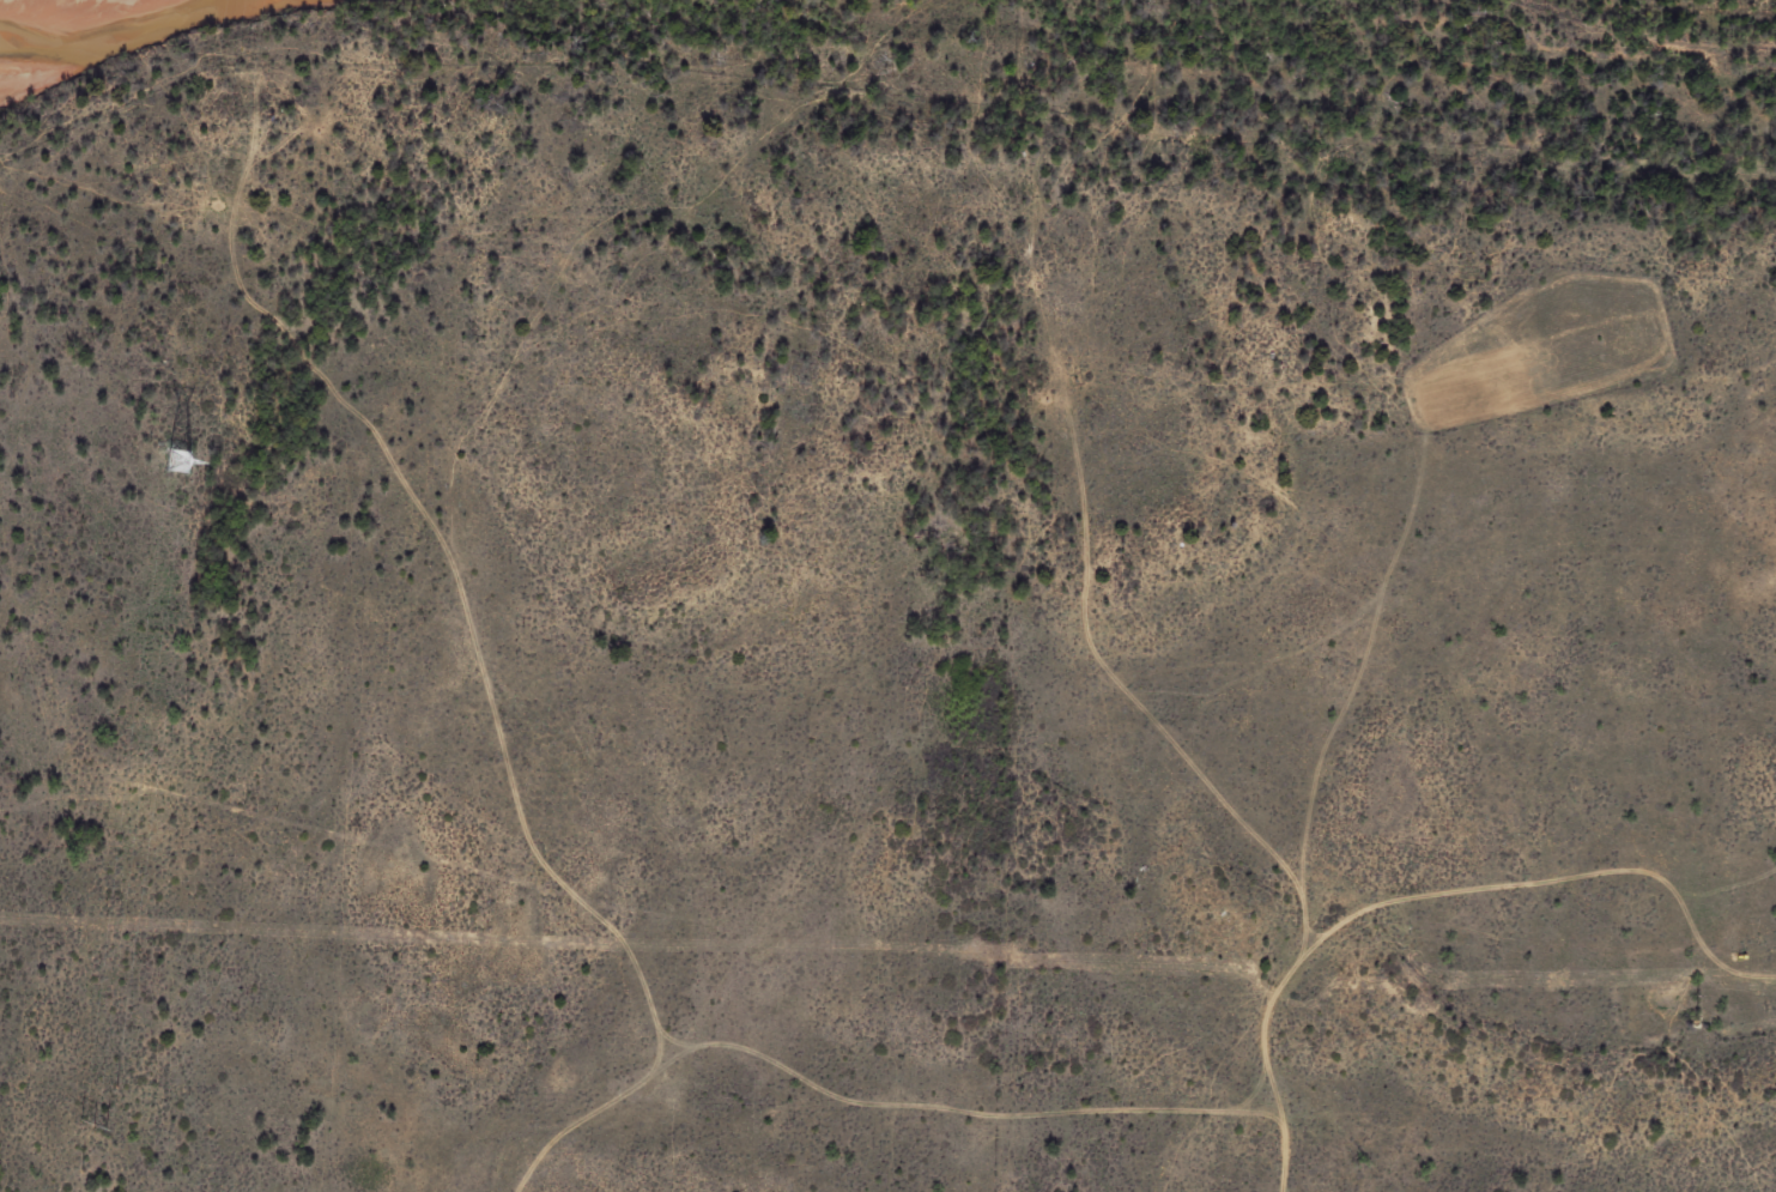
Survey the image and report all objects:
river: (133, 53)
power tower: (180, 465)
road: (511, 670)
road: (1354, 949)
power tower: (93, 1127)

